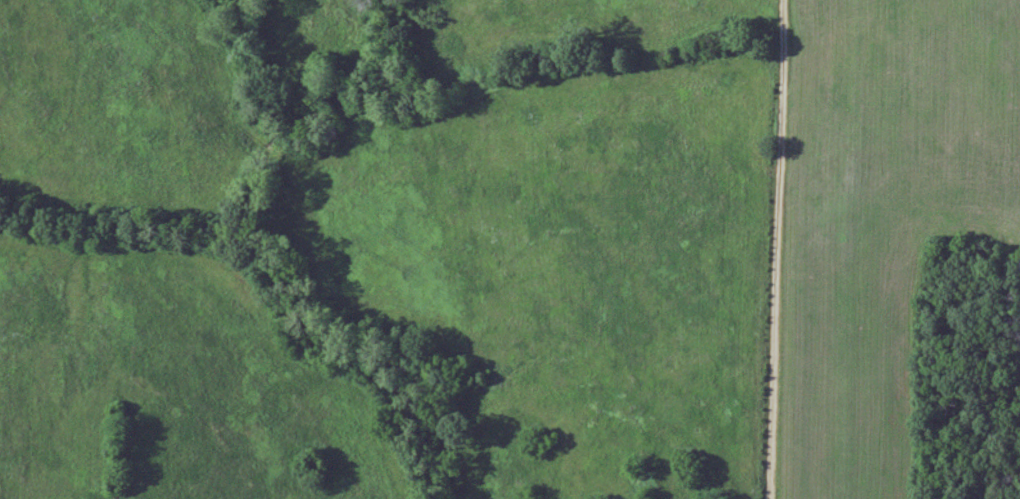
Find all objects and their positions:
road: (780, 249)

